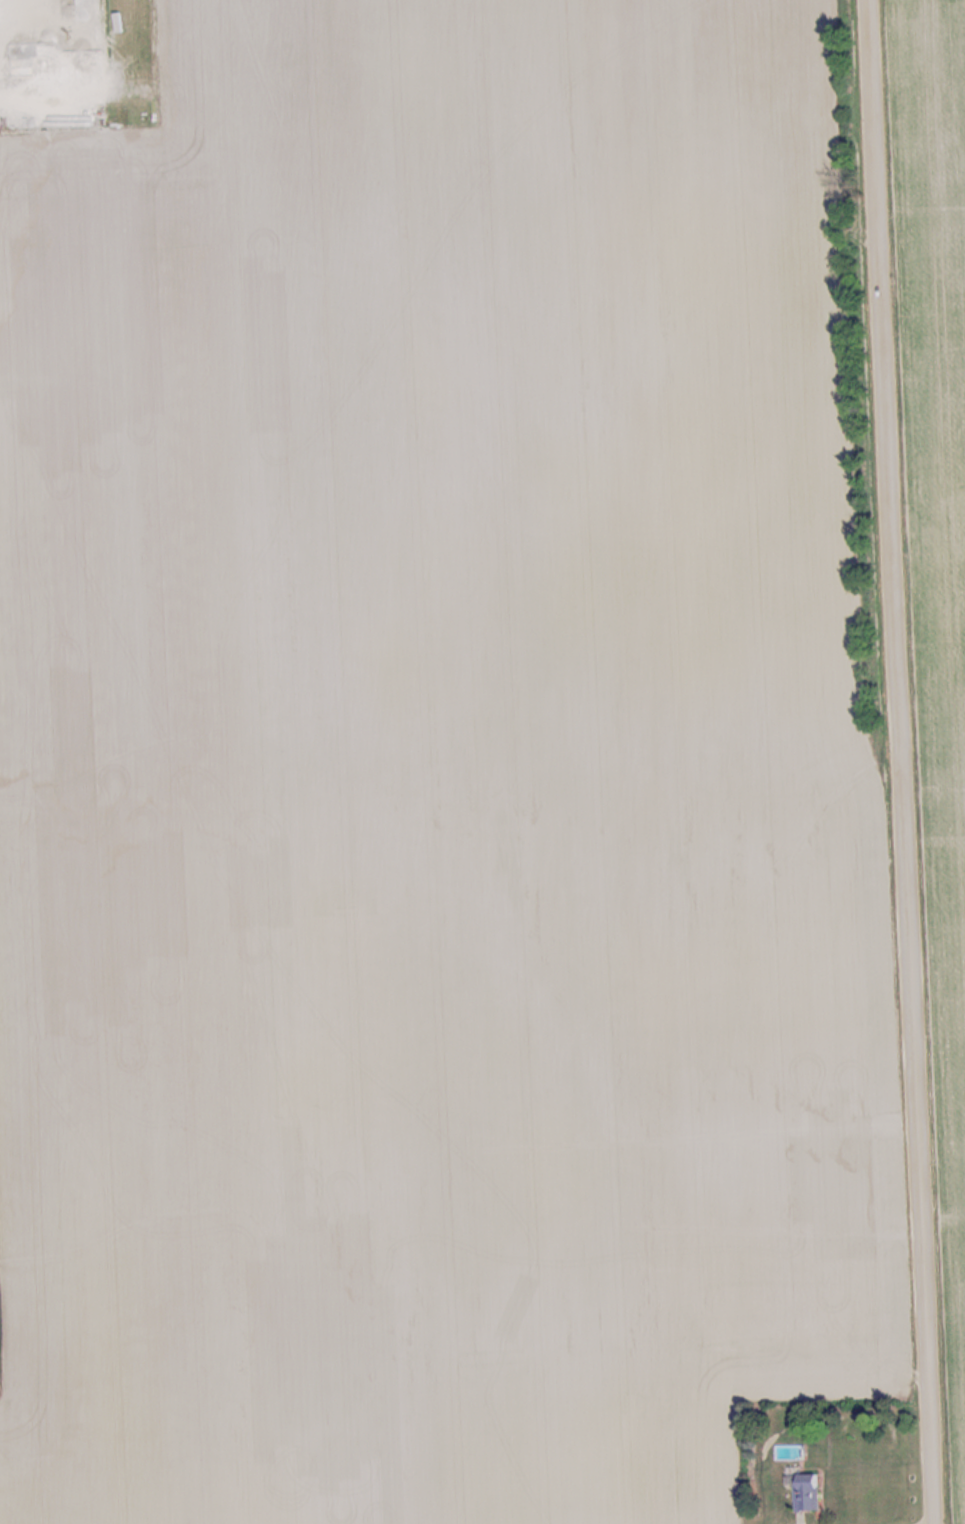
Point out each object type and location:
road: (894, 762)
building: (806, 1490)

